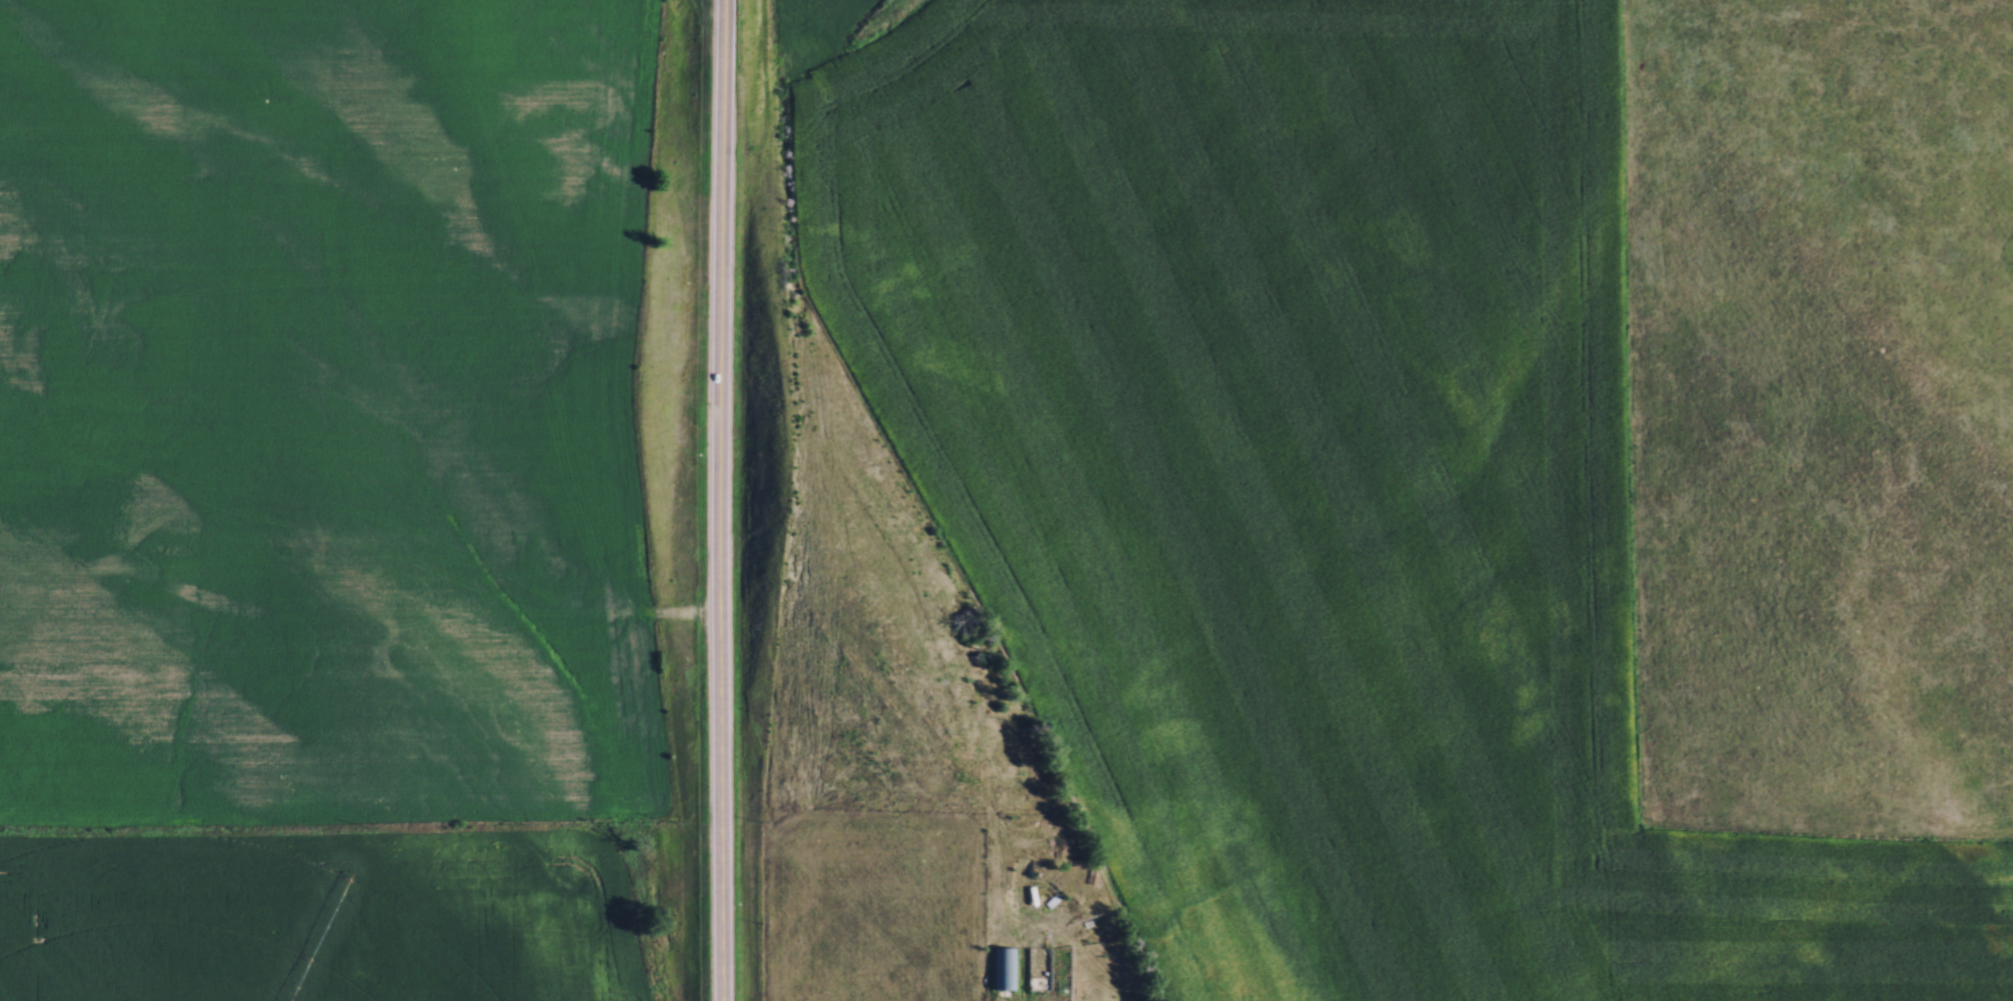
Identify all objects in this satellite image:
road: (719, 500)
building: (1002, 967)
building: (1036, 967)

